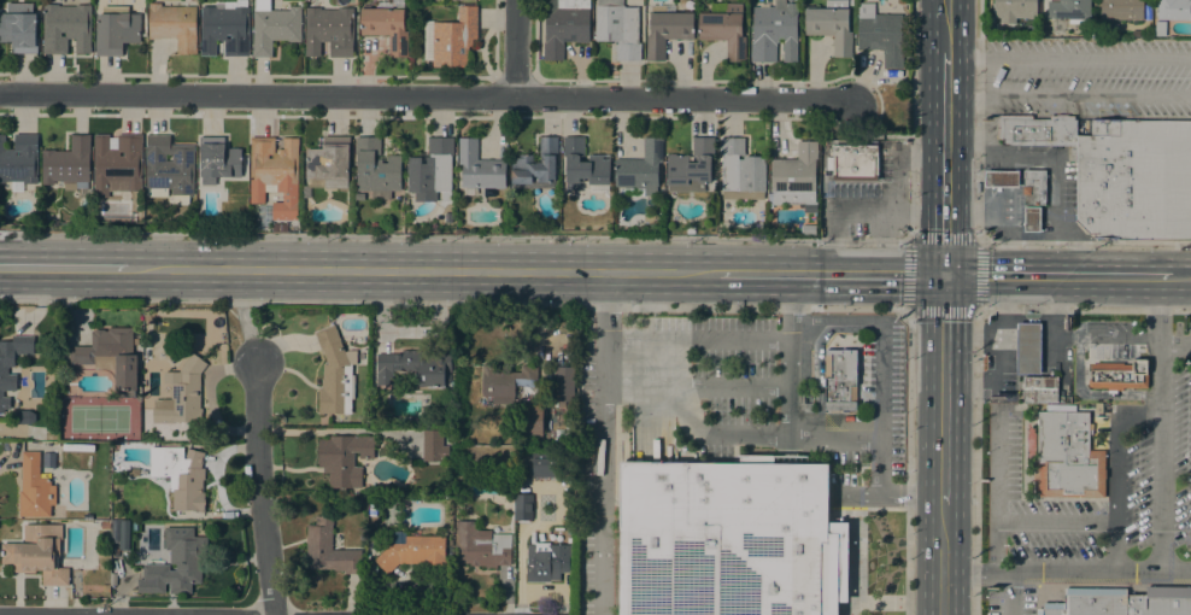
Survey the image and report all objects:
building: (260, 4)
building: (1069, 10)
building: (1121, 10)
building: (1174, 10)
building: (1015, 11)
building: (831, 24)
building: (174, 25)
building: (564, 25)
building: (19, 27)
building: (386, 27)
building: (65, 28)
building: (225, 28)
building: (274, 28)
building: (618, 28)
building: (990, 28)
building: (1160, 28)
building: (116, 29)
road: (947, 29)
building: (667, 30)
building: (723, 30)
building: (329, 31)
building: (773, 33)
building: (880, 34)
building: (451, 39)
road: (520, 47)
road: (1187, 80)
road: (259, 94)
road: (683, 98)
road: (914, 119)
building: (1037, 130)
road: (872, 136)
building: (19, 160)
building: (218, 160)
building: (329, 160)
building: (68, 163)
building: (535, 163)
building: (853, 163)
building: (117, 164)
building: (583, 164)
building: (432, 166)
building: (479, 166)
building: (691, 166)
road: (946, 166)
building: (640, 168)
building: (169, 169)
building: (376, 169)
building: (740, 171)
building: (275, 174)
building: (794, 175)
building: (1001, 178)
gas station: (1001, 178)
building: (1134, 180)
building: (1033, 187)
road: (893, 192)
road: (855, 206)
road: (1004, 216)
building: (1031, 218)
building: (697, 223)
building: (280, 227)
road: (978, 228)
road: (454, 235)
road: (975, 240)
road: (63, 269)
road: (422, 270)
road: (832, 274)
traffic signals: (945, 275)
road: (1055, 276)
road: (1179, 276)
road: (790, 297)
road: (606, 305)
road: (600, 306)
road: (1164, 309)
road: (833, 321)
road: (246, 334)
road: (694, 341)
road: (1178, 342)
building: (1028, 348)
gas station: (1028, 348)
road: (816, 355)
road: (976, 355)
road: (1029, 355)
building: (81, 359)
building: (11, 363)
building: (415, 367)
building: (335, 374)
building: (1119, 375)
building: (839, 377)
road: (788, 379)
road: (880, 379)
building: (505, 382)
building: (564, 383)
road: (694, 387)
parking lot: (794, 389)
road: (943, 389)
building: (1039, 389)
building: (181, 396)
building: (1058, 406)
building: (529, 418)
road: (732, 438)
road: (833, 438)
building: (433, 445)
road: (1120, 449)
building: (1068, 457)
road: (1166, 457)
building: (344, 458)
building: (547, 464)
road: (880, 468)
parking lot: (1149, 474)
building: (180, 475)
road: (599, 479)
parking lot: (591, 485)
building: (34, 488)
road: (258, 488)
road: (997, 491)
road: (855, 498)
road: (910, 498)
building: (522, 502)
building: (105, 525)
road: (1058, 529)
building: (115, 531)
building: (124, 534)
building: (729, 539)
building: (480, 545)
building: (328, 549)
building: (412, 551)
road: (1119, 551)
building: (37, 553)
building: (539, 560)
building: (175, 561)
road: (941, 561)
road: (1066, 570)
building: (371, 573)
building: (113, 579)
building: (105, 588)
road: (1010, 592)
building: (1121, 602)

